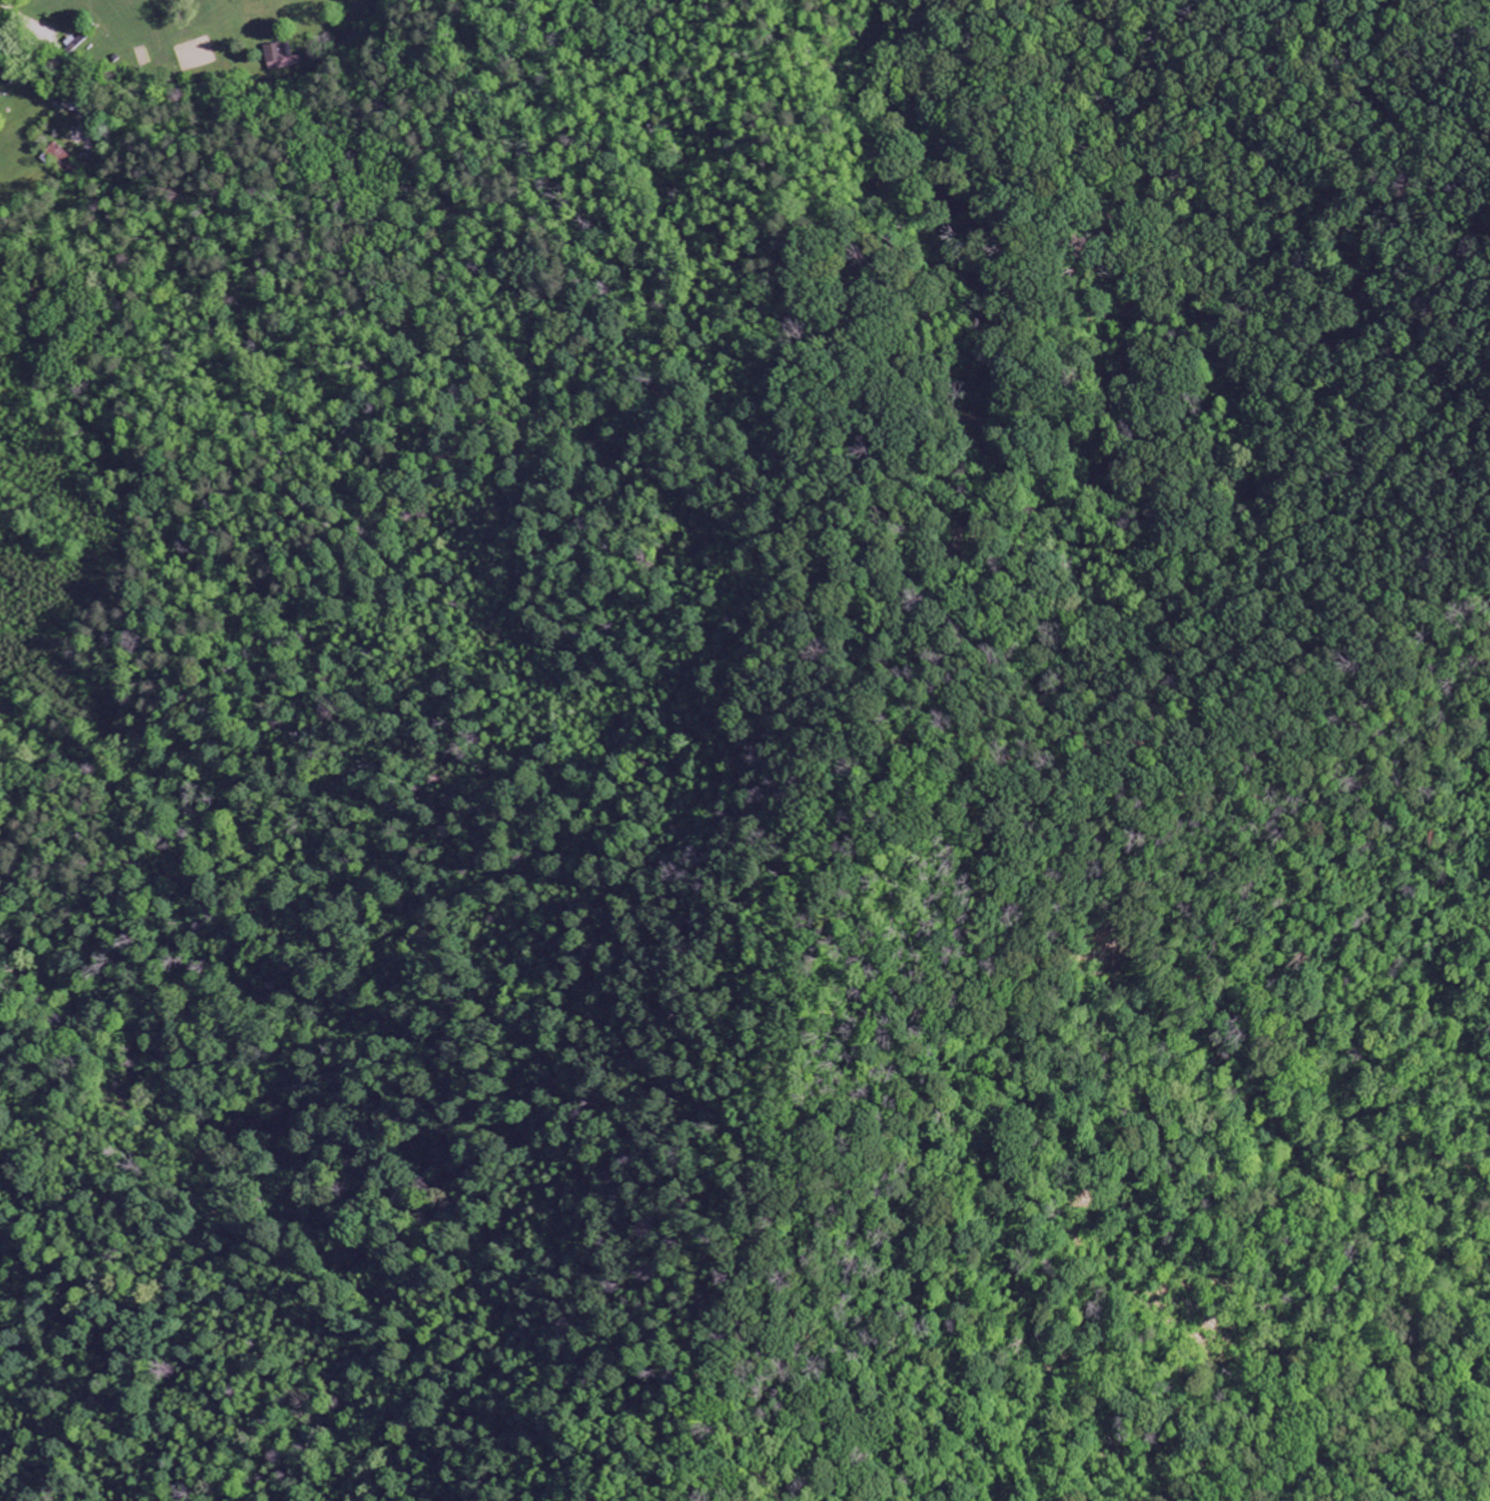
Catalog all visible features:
building: (281, 58)
road: (960, 912)

